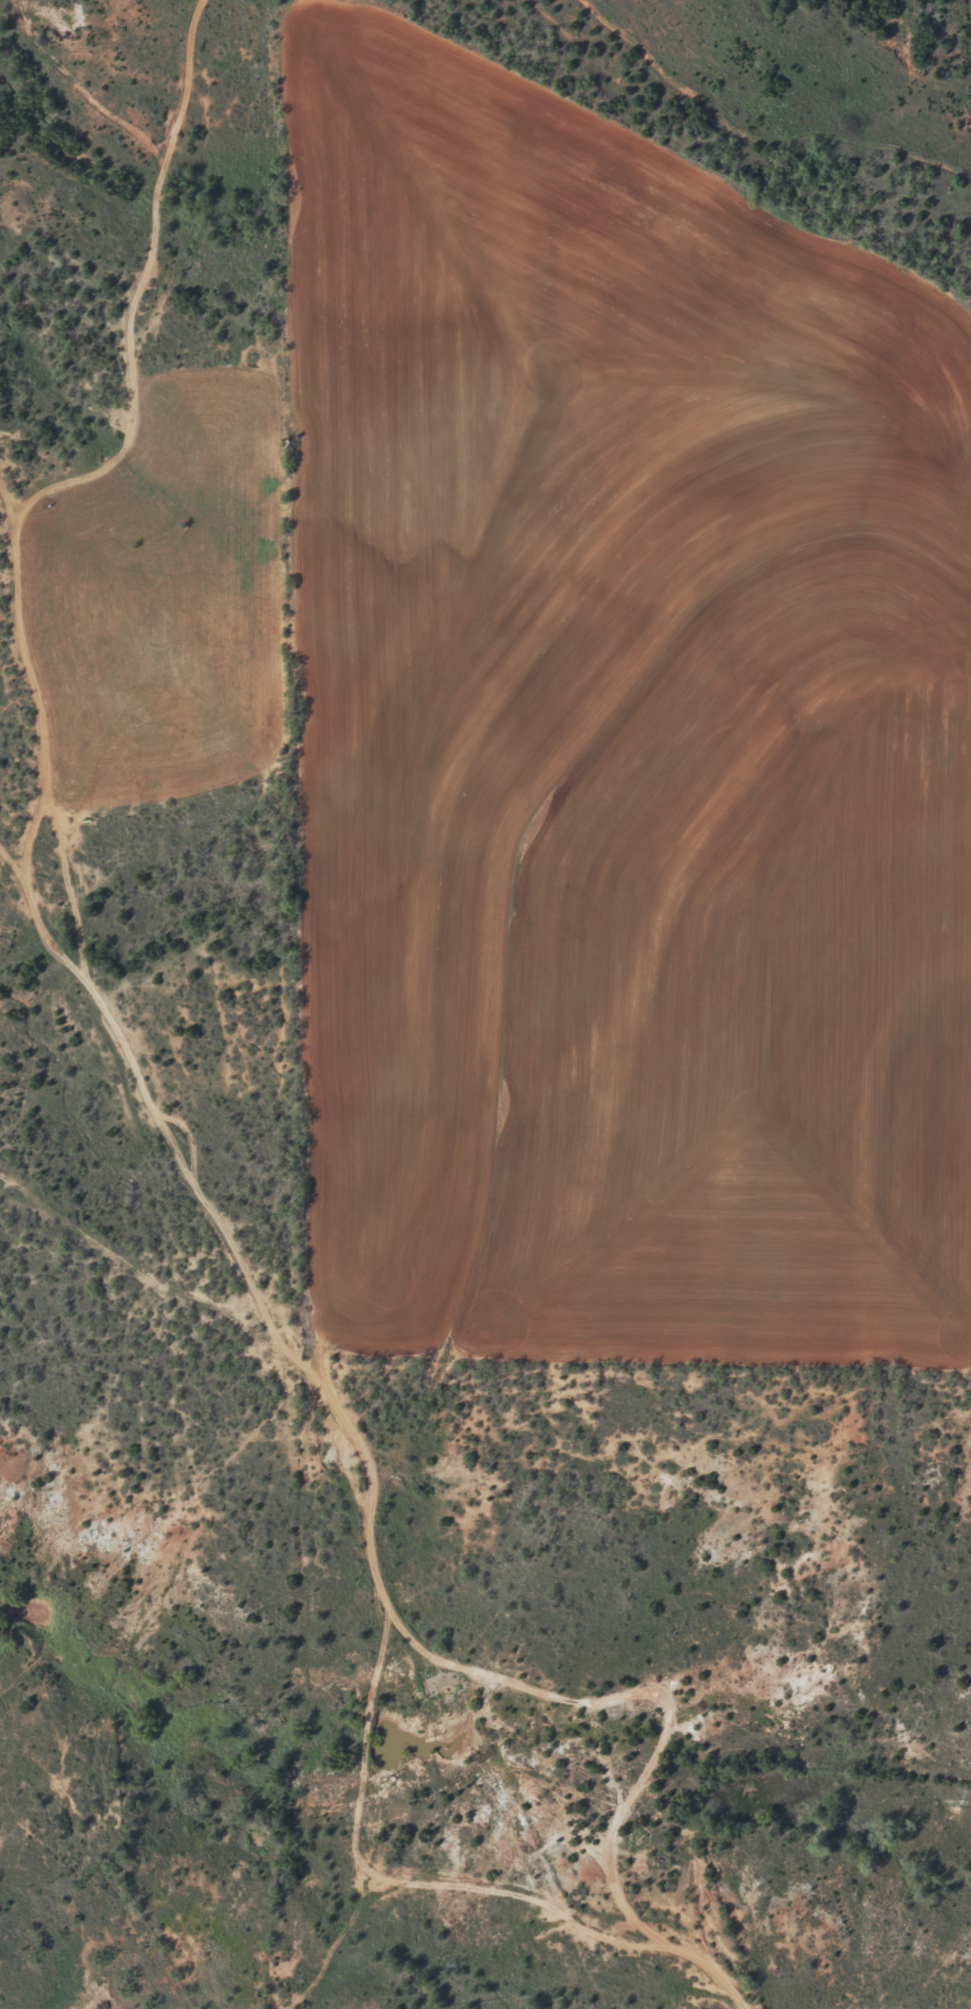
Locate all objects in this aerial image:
road: (469, 1762)

